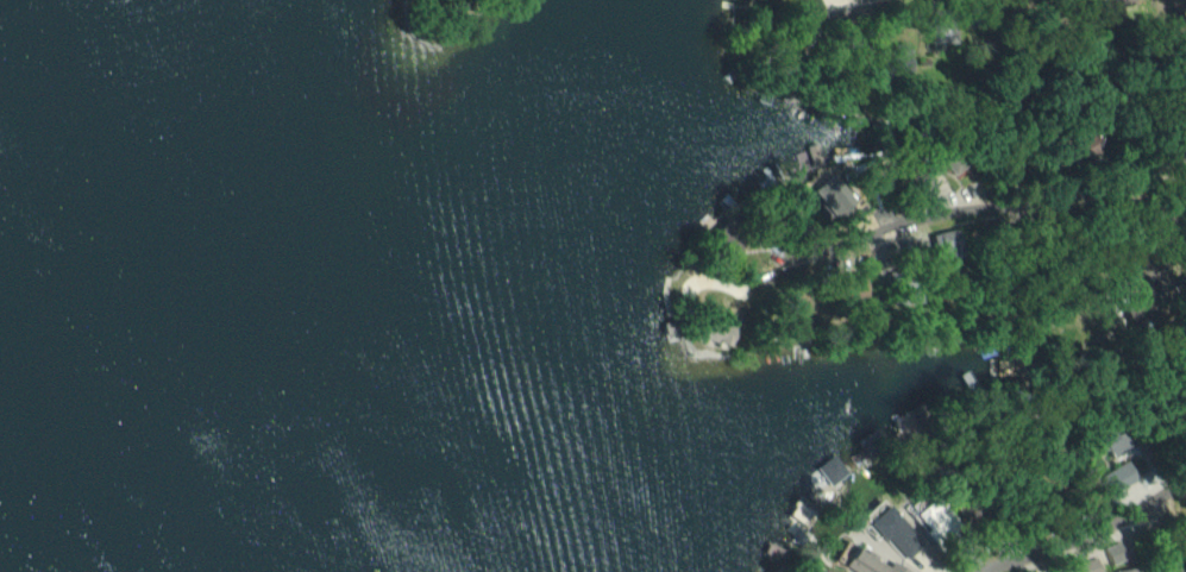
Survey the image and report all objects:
building: (1113, 2)
road: (826, 15)
building: (950, 159)
road: (1152, 180)
building: (832, 195)
road: (965, 207)
road: (1171, 218)
building: (732, 233)
building: (943, 243)
road: (1146, 256)
building: (912, 421)
building: (867, 448)
building: (830, 469)
building: (1122, 473)
building: (934, 518)
building: (893, 532)
road: (1085, 534)
building: (1113, 552)
building: (870, 564)
building: (1087, 565)
building: (1127, 570)

